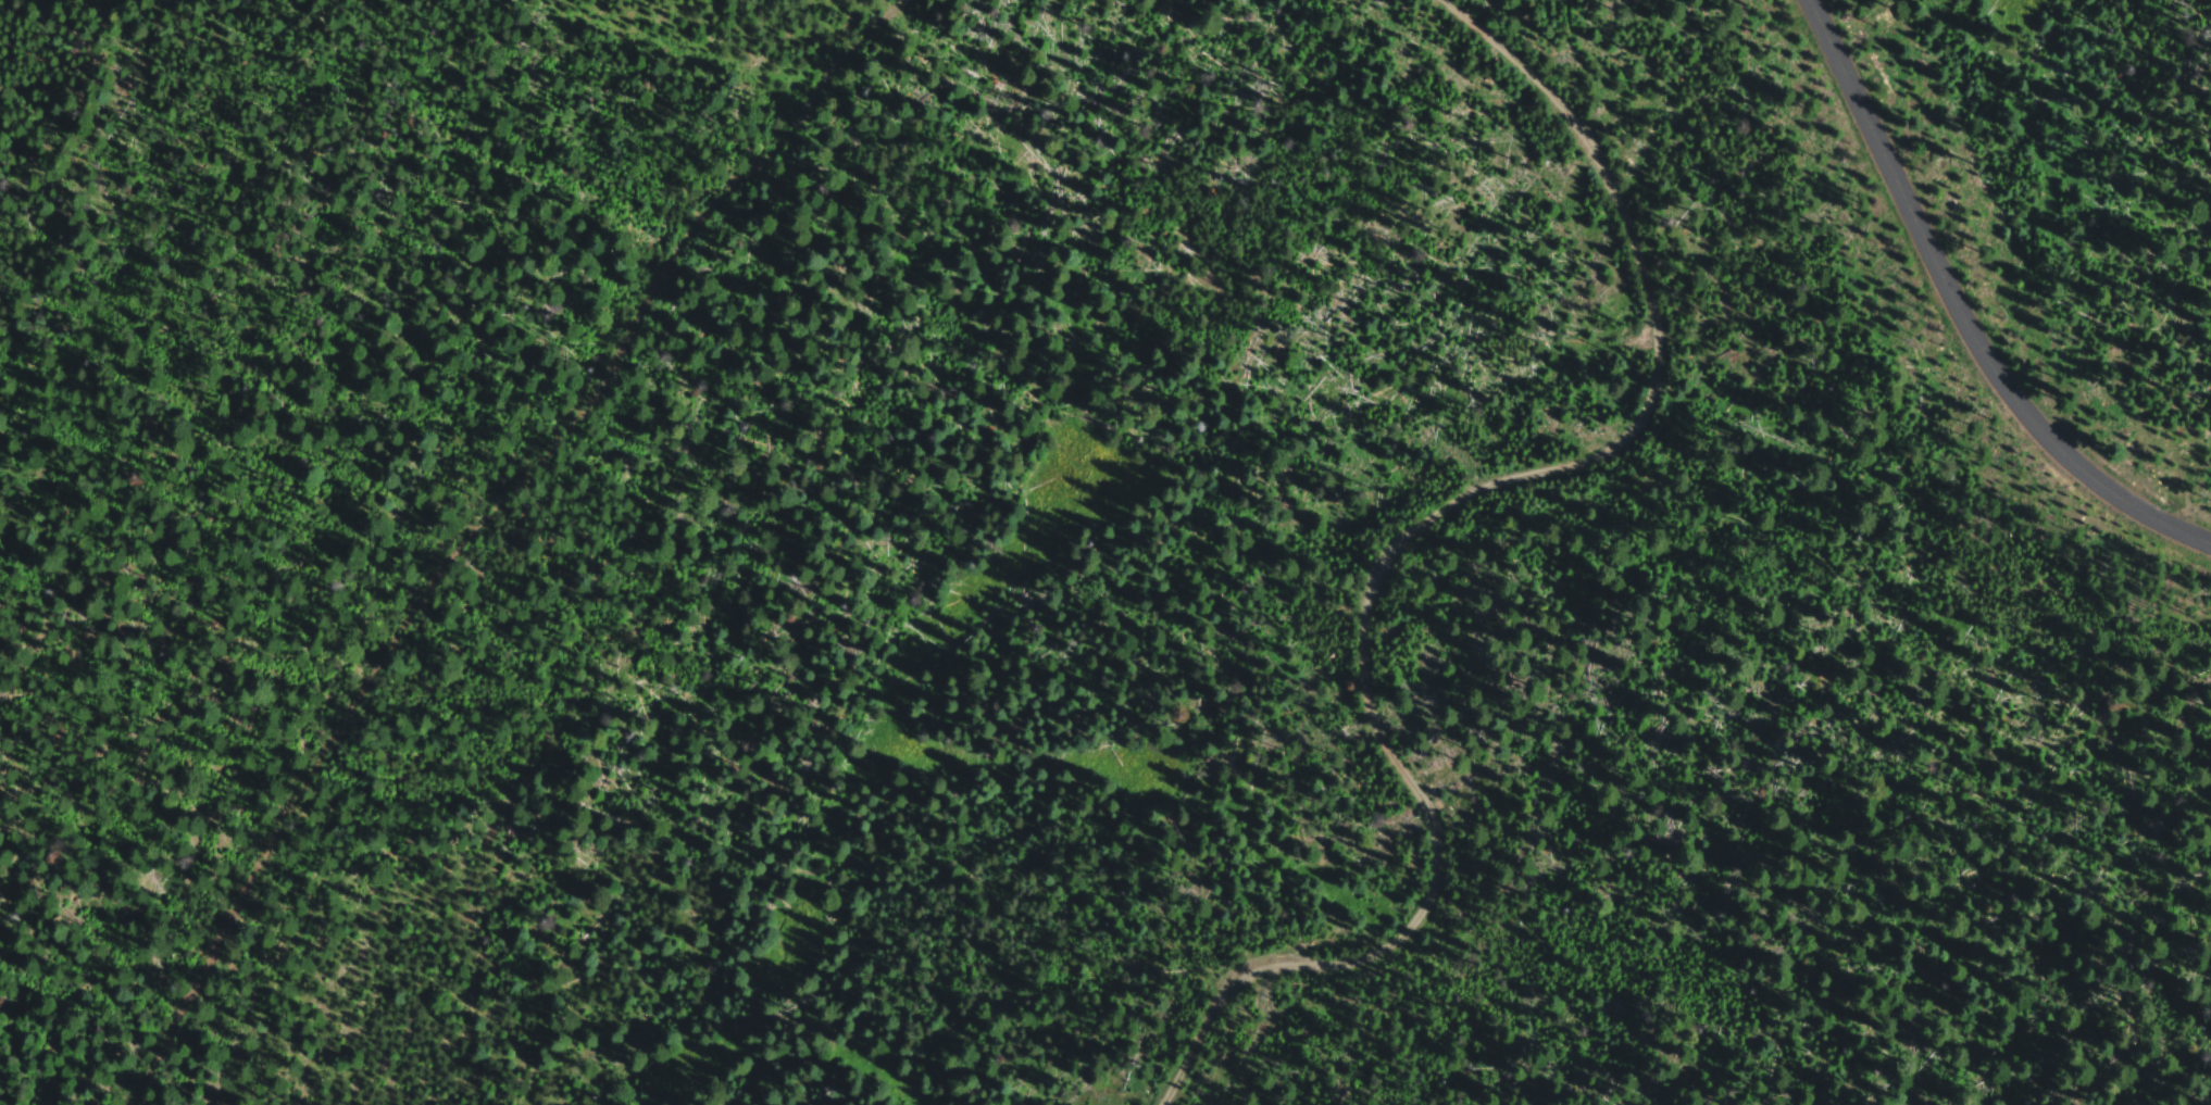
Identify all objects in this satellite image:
road: (1959, 315)

